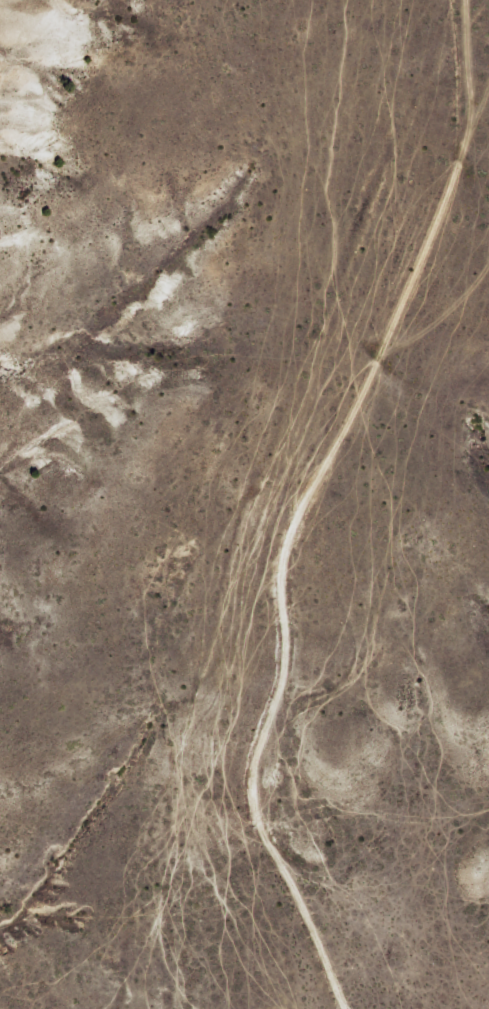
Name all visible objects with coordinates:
road: (469, 69)
road: (434, 323)
road: (287, 538)

